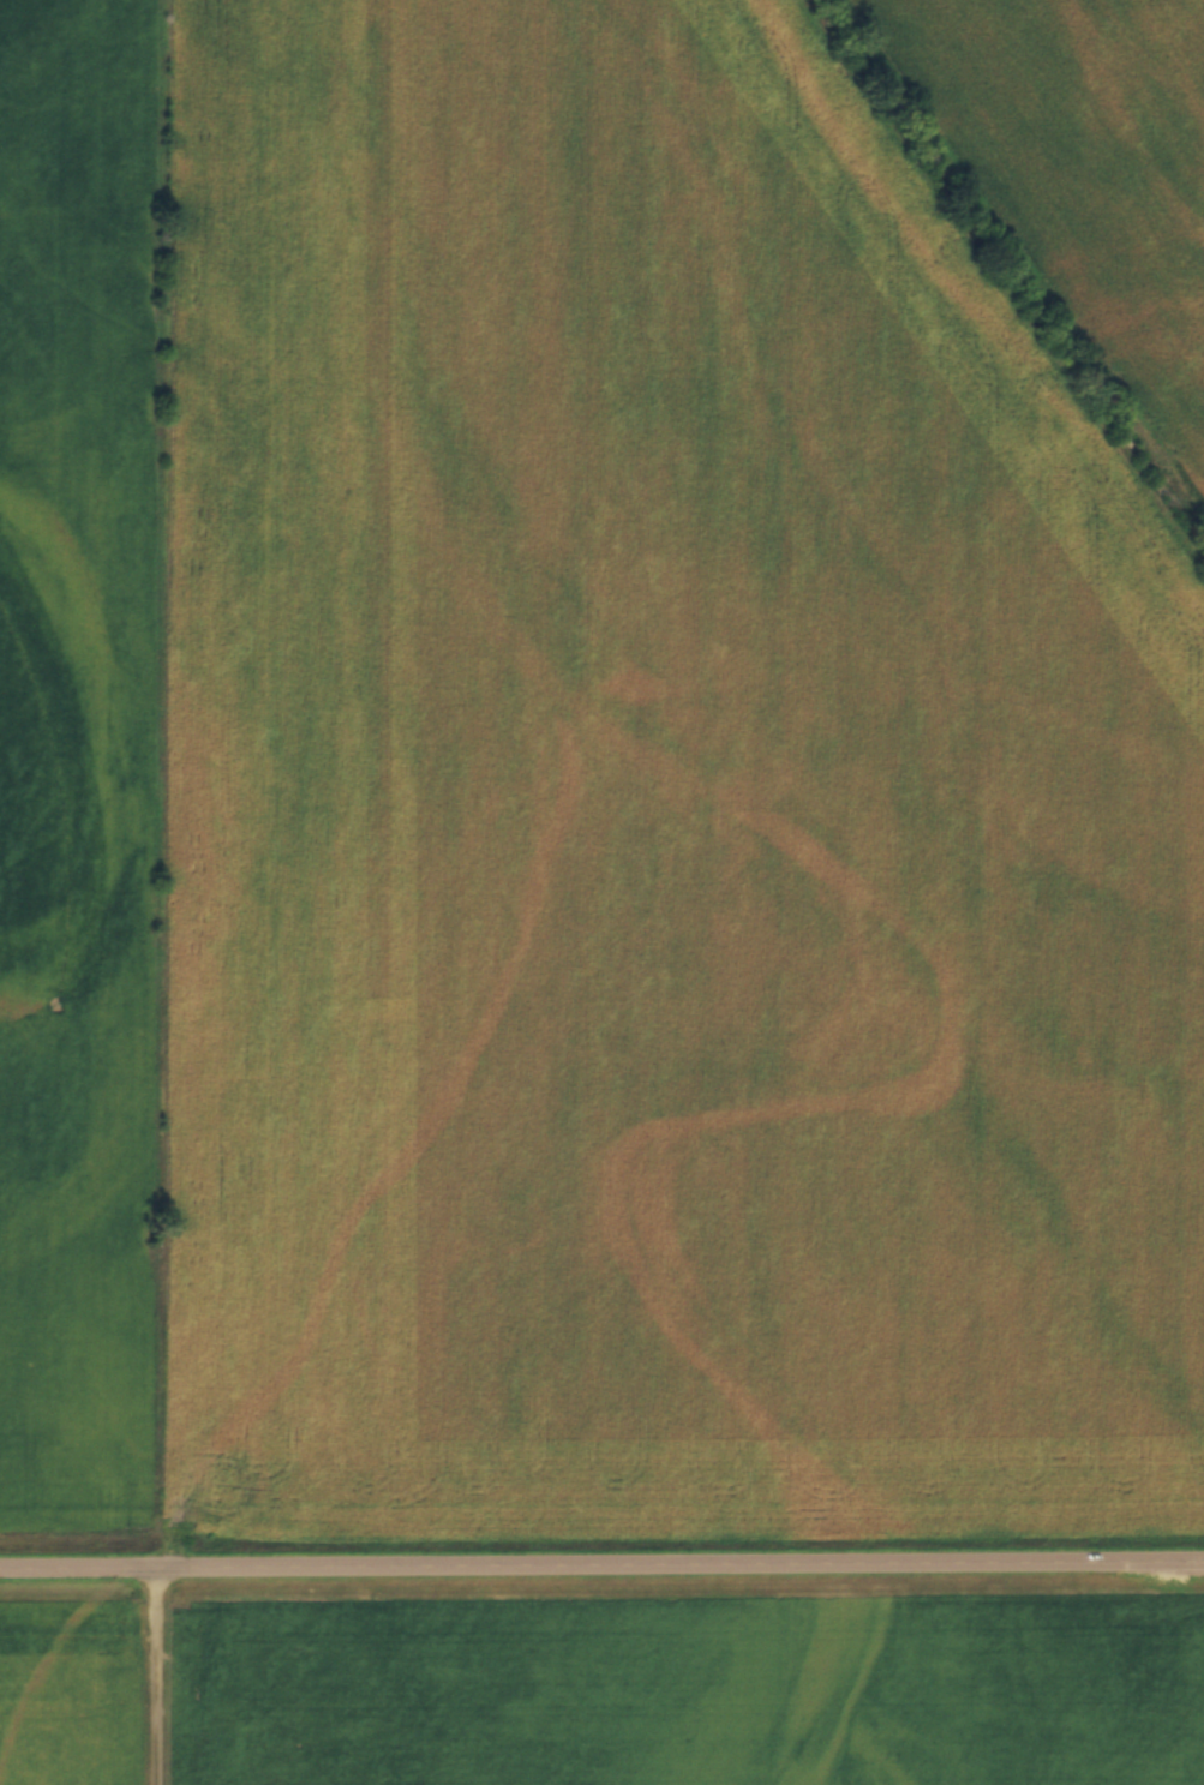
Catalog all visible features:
river: (1006, 274)
road: (601, 1563)
road: (167, 1676)

